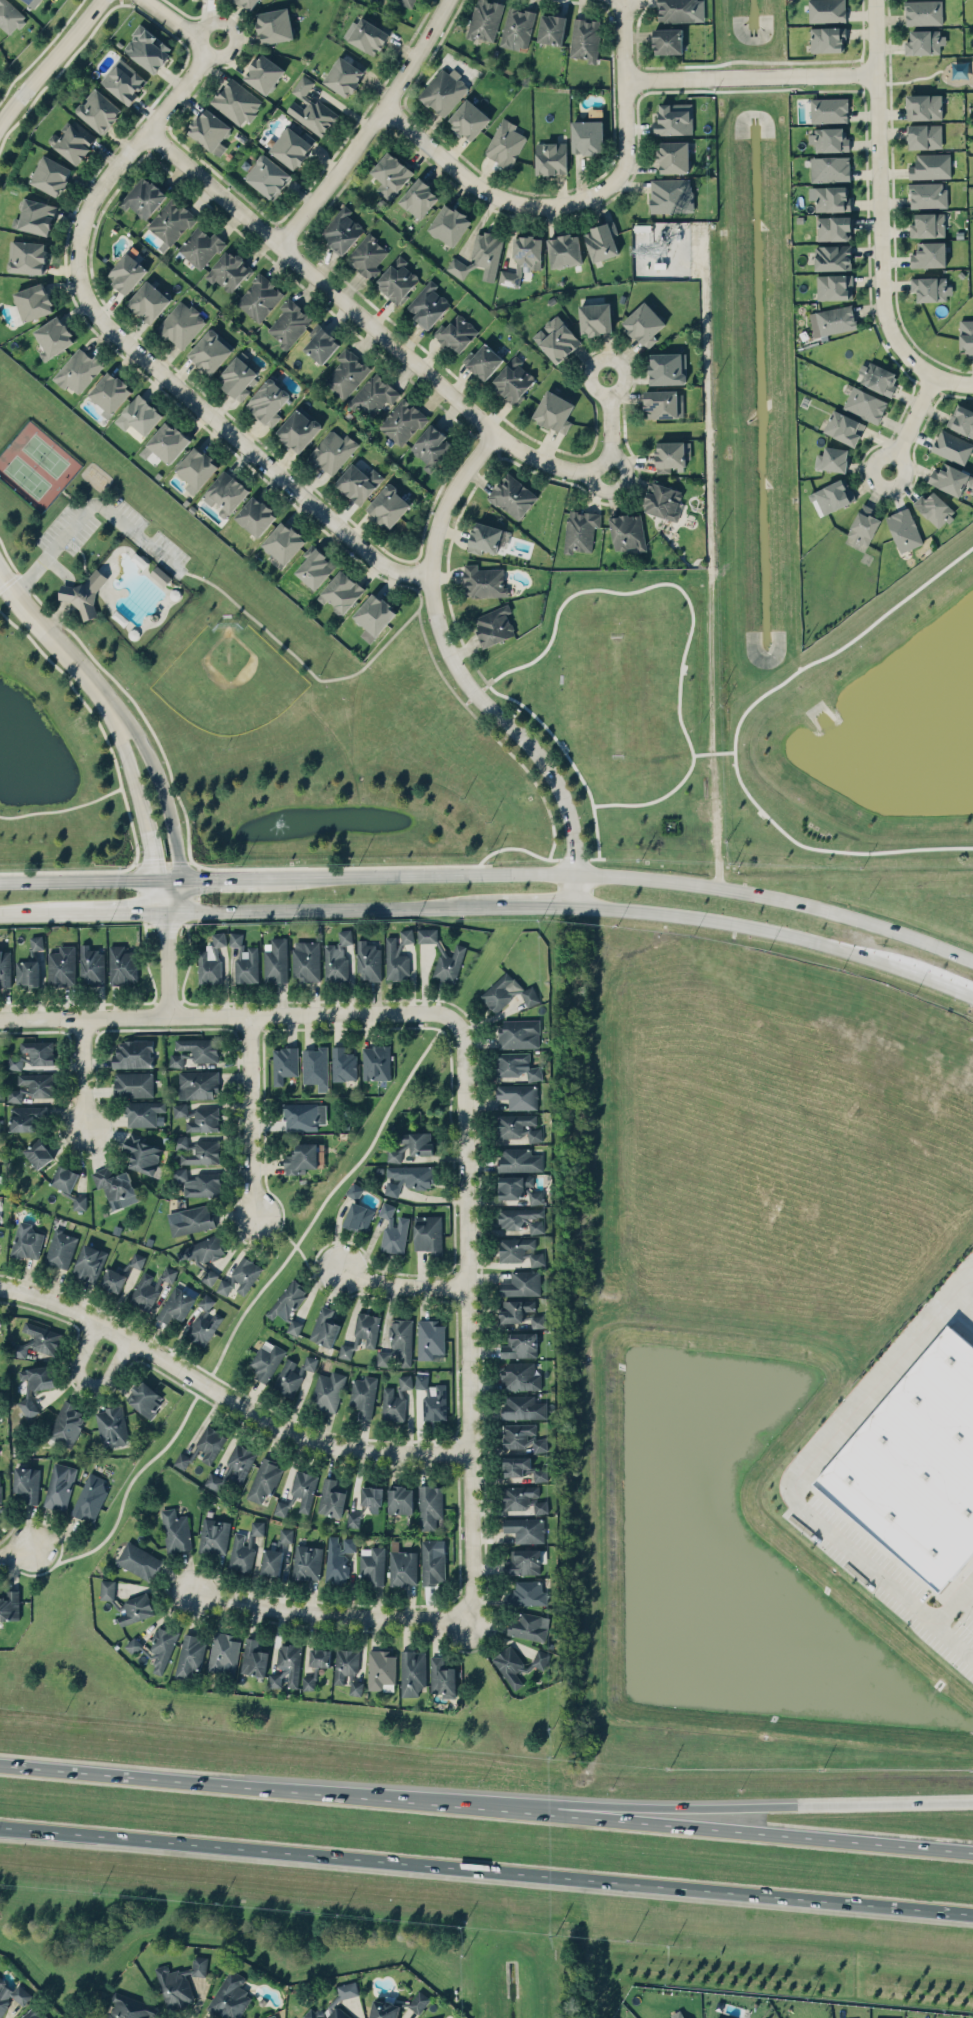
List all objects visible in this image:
building: (30, 1)
building: (406, 2)
building: (246, 3)
building: (680, 10)
building: (826, 10)
building: (923, 12)
building: (10, 16)
road: (174, 19)
building: (485, 19)
building: (274, 25)
building: (517, 27)
building: (551, 28)
road: (235, 31)
building: (369, 35)
building: (585, 39)
building: (827, 39)
building: (668, 40)
building: (924, 42)
building: (147, 49)
road: (49, 61)
road: (59, 70)
park: (929, 71)
building: (264, 73)
building: (345, 73)
road: (750, 76)
road: (909, 78)
building: (124, 80)
building: (444, 91)
road: (626, 95)
building: (236, 101)
building: (923, 106)
building: (310, 108)
building: (829, 109)
building: (99, 110)
building: (674, 118)
building: (469, 119)
road: (371, 126)
building: (210, 130)
building: (587, 136)
building: (924, 136)
building: (828, 139)
building: (72, 140)
road: (138, 142)
building: (505, 143)
building: (292, 145)
building: (673, 156)
building: (551, 157)
building: (930, 166)
building: (829, 168)
building: (390, 174)
building: (51, 175)
building: (268, 176)
road: (490, 189)
building: (669, 194)
building: (927, 194)
building: (143, 197)
building: (419, 198)
building: (832, 198)
road: (878, 198)
building: (35, 216)
building: (171, 220)
building: (449, 224)
building: (928, 224)
building: (833, 227)
building: (342, 230)
building: (601, 241)
building: (200, 246)
building: (564, 250)
building: (928, 254)
building: (367, 255)
building: (27, 256)
building: (480, 256)
building: (832, 257)
building: (522, 258)
building: (228, 270)
building: (127, 272)
building: (397, 279)
building: (834, 286)
building: (930, 288)
building: (259, 297)
building: (33, 301)
building: (148, 301)
building: (428, 305)
building: (595, 318)
building: (832, 320)
building: (289, 322)
building: (181, 323)
building: (644, 324)
building: (456, 333)
building: (966, 335)
building: (53, 337)
building: (556, 338)
building: (321, 343)
building: (210, 351)
road: (406, 356)
building: (483, 361)
building: (666, 368)
building: (78, 370)
building: (346, 373)
building: (237, 375)
building: (878, 377)
building: (513, 379)
road: (953, 380)
building: (110, 391)
building: (374, 394)
building: (268, 401)
building: (664, 404)
building: (864, 404)
building: (554, 411)
building: (139, 415)
building: (962, 419)
building: (402, 421)
road: (912, 424)
building: (844, 427)
building: (299, 428)
road: (228, 430)
building: (168, 441)
building: (432, 446)
building: (952, 446)
building: (332, 451)
building: (671, 455)
building: (832, 459)
park: (35, 464)
building: (196, 468)
building: (950, 478)
building: (358, 482)
building: (225, 493)
building: (833, 495)
building: (512, 496)
road: (72, 497)
building: (662, 500)
road: (88, 505)
building: (388, 506)
building: (934, 508)
building: (256, 515)
building: (904, 529)
building: (580, 530)
building: (628, 532)
building: (486, 537)
building: (283, 542)
road: (81, 552)
building: (315, 566)
building: (160, 575)
road: (7, 578)
building: (483, 581)
road: (66, 589)
building: (341, 591)
building: (83, 594)
building: (374, 613)
building: (494, 625)
road: (49, 630)
park: (185, 654)
road: (314, 675)
road: (463, 677)
park: (226, 678)
road: (141, 713)
road: (109, 748)
road: (158, 774)
road: (137, 797)
road: (62, 808)
road: (429, 874)
road: (232, 877)
road: (166, 878)
road: (75, 879)
road: (173, 894)
road: (778, 899)
road: (526, 907)
road: (320, 909)
road: (112, 912)
road: (29, 913)
road: (779, 931)
building: (427, 934)
building: (235, 938)
building: (36, 942)
building: (397, 955)
building: (337, 956)
building: (210, 960)
building: (275, 960)
building: (305, 960)
building: (368, 961)
road: (167, 963)
building: (122, 964)
building: (449, 964)
building: (61, 965)
building: (92, 965)
building: (246, 965)
building: (5, 967)
building: (27, 972)
building: (506, 992)
road: (225, 1016)
building: (518, 1033)
building: (199, 1048)
building: (38, 1051)
building: (132, 1053)
building: (14, 1061)
building: (376, 1062)
building: (284, 1063)
building: (343, 1064)
building: (314, 1065)
building: (516, 1065)
road: (82, 1073)
building: (133, 1084)
building: (197, 1084)
building: (32, 1086)
building: (518, 1095)
building: (144, 1113)
road: (251, 1116)
building: (304, 1116)
building: (27, 1117)
building: (198, 1117)
building: (1, 1125)
building: (519, 1126)
building: (412, 1145)
building: (197, 1150)
building: (38, 1153)
building: (141, 1153)
building: (301, 1158)
building: (518, 1159)
building: (407, 1178)
building: (198, 1182)
building: (67, 1183)
building: (115, 1186)
building: (519, 1188)
building: (354, 1190)
road: (327, 1200)
building: (358, 1216)
building: (522, 1218)
building: (190, 1219)
road: (277, 1228)
building: (393, 1229)
building: (428, 1233)
building: (26, 1240)
building: (60, 1248)
building: (203, 1249)
building: (519, 1250)
building: (137, 1259)
building: (89, 1262)
road: (311, 1272)
building: (168, 1273)
building: (209, 1276)
building: (240, 1277)
building: (113, 1279)
building: (522, 1283)
road: (402, 1285)
building: (144, 1292)
building: (206, 1301)
building: (177, 1304)
building: (288, 1305)
building: (515, 1309)
road: (466, 1317)
building: (536, 1321)
building: (203, 1327)
building: (324, 1327)
building: (367, 1328)
building: (37, 1339)
building: (430, 1339)
building: (398, 1343)
building: (519, 1345)
building: (345, 1350)
building: (266, 1359)
building: (309, 1362)
building: (520, 1376)
building: (287, 1378)
road: (88, 1382)
building: (404, 1382)
building: (35, 1384)
building: (327, 1390)
building: (363, 1395)
road: (226, 1396)
building: (432, 1397)
building: (145, 1398)
building: (392, 1405)
building: (523, 1407)
building: (66, 1423)
building: (111, 1426)
building: (522, 1436)
building: (203, 1447)
road: (816, 1454)
building: (523, 1467)
building: (917, 1468)
building: (233, 1469)
building: (264, 1479)
building: (27, 1483)
building: (59, 1486)
building: (304, 1488)
building: (0, 1491)
road: (125, 1491)
building: (90, 1497)
building: (372, 1497)
building: (331, 1498)
building: (523, 1498)
building: (400, 1499)
building: (429, 1505)
building: (281, 1508)
building: (353, 1518)
building: (257, 1527)
building: (525, 1529)
building: (175, 1530)
building: (286, 1534)
building: (214, 1535)
road: (16, 1553)
building: (241, 1553)
building: (338, 1557)
building: (139, 1560)
building: (271, 1561)
building: (307, 1561)
building: (433, 1561)
building: (523, 1561)
building: (373, 1566)
building: (402, 1567)
building: (107, 1588)
building: (526, 1593)
building: (9, 1605)
building: (134, 1610)
road: (330, 1614)
road: (936, 1618)
building: (528, 1625)
building: (133, 1644)
building: (161, 1648)
building: (223, 1653)
building: (189, 1656)
building: (253, 1657)
building: (319, 1657)
building: (518, 1663)
building: (286, 1665)
building: (347, 1669)
building: (381, 1669)
building: (412, 1671)
building: (442, 1677)
building: (309, 1682)
road: (248, 1783)
road: (735, 1804)
road: (735, 1826)
road: (486, 1869)
building: (179, 1982)
building: (12, 1995)
building: (229, 1996)
building: (334, 2001)
building: (398, 2006)
building: (130, 2007)
building: (34, 2013)
building: (676, 2013)
building: (270, 2016)
building: (724, 2016)
building: (847, 2017)

